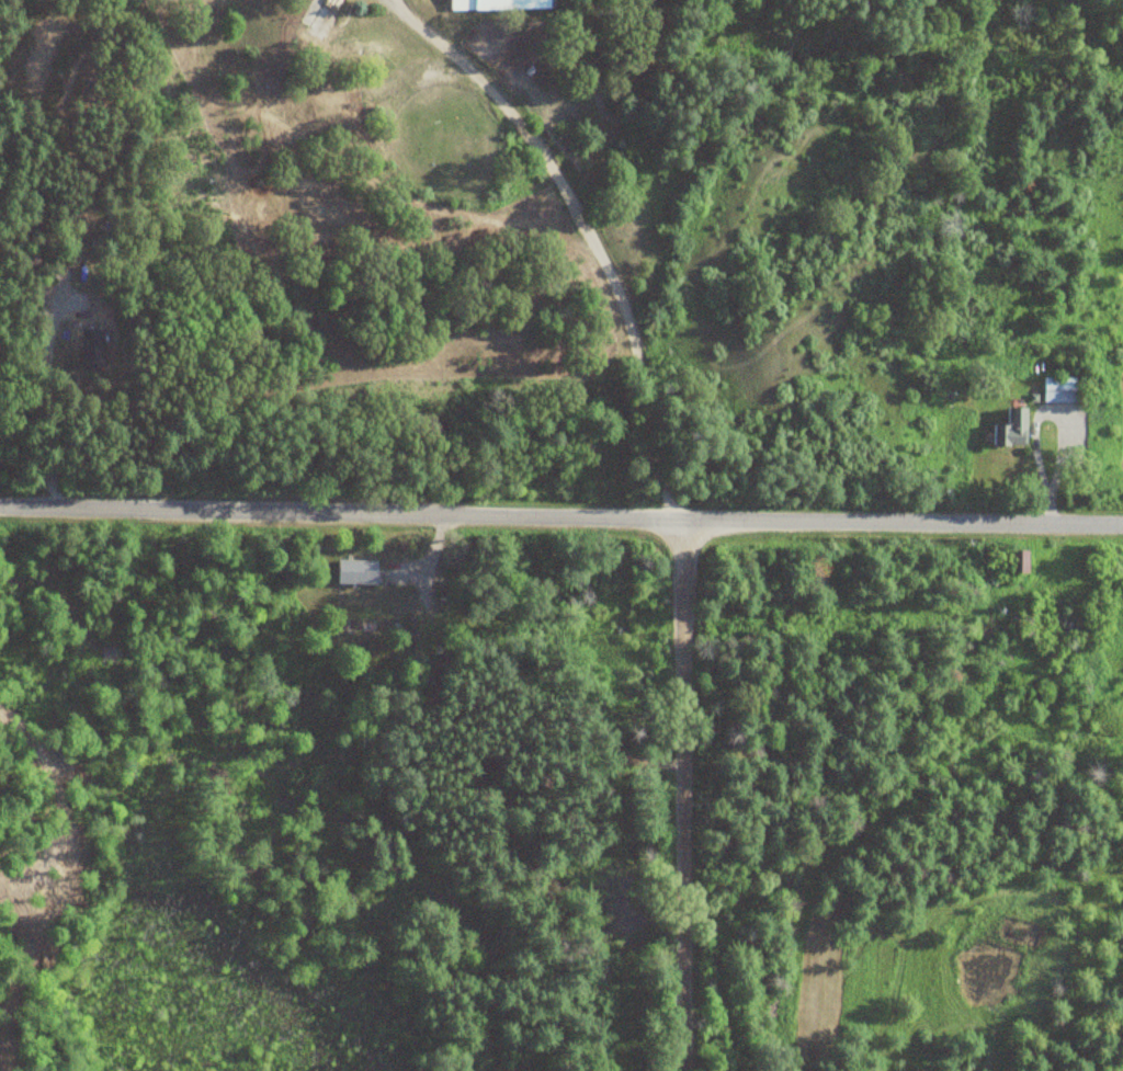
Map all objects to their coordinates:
building: (497, 5)
building: (318, 18)
building: (1057, 390)
building: (1009, 429)
road: (560, 516)
building: (1014, 561)
building: (354, 571)
road: (678, 797)

